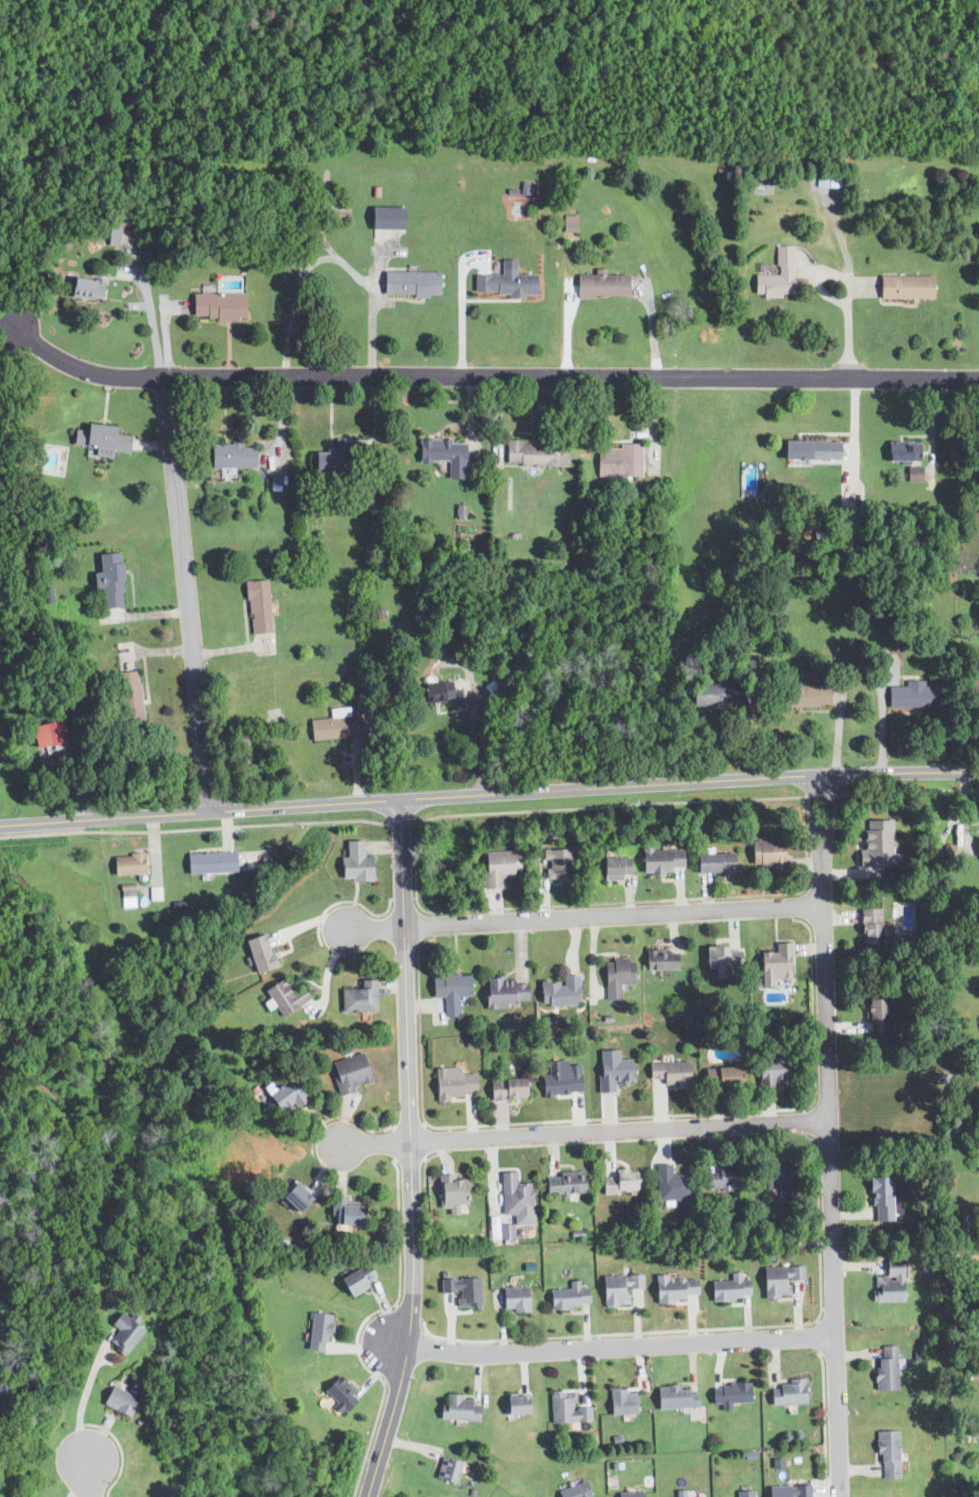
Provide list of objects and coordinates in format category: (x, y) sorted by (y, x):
building: (386, 218)
building: (569, 223)
road: (330, 256)
building: (776, 276)
building: (410, 284)
building: (504, 284)
building: (601, 286)
building: (905, 287)
building: (85, 289)
road: (845, 294)
building: (218, 306)
road: (7, 313)
road: (150, 316)
road: (460, 321)
road: (565, 327)
road: (650, 329)
road: (84, 369)
road: (571, 376)
road: (854, 420)
road: (280, 422)
building: (101, 440)
building: (811, 449)
building: (903, 451)
building: (535, 452)
building: (443, 454)
building: (231, 455)
building: (333, 458)
building: (618, 461)
building: (277, 481)
building: (460, 511)
building: (110, 580)
road: (187, 593)
building: (257, 606)
building: (492, 688)
building: (975, 690)
building: (436, 691)
building: (716, 695)
building: (910, 695)
building: (803, 696)
building: (129, 698)
building: (333, 725)
building: (47, 733)
road: (479, 740)
road: (689, 782)
road: (606, 806)
road: (199, 811)
road: (398, 823)
road: (194, 828)
building: (978, 844)
building: (879, 845)
building: (768, 854)
building: (660, 860)
building: (209, 862)
building: (355, 863)
building: (714, 863)
building: (127, 864)
building: (556, 865)
building: (616, 867)
building: (496, 868)
road: (413, 873)
building: (154, 893)
road: (790, 894)
building: (127, 896)
road: (664, 899)
road: (790, 906)
road: (613, 914)
road: (431, 924)
building: (870, 925)
road: (374, 927)
building: (259, 952)
building: (660, 960)
building: (722, 960)
building: (775, 963)
building: (616, 976)
building: (450, 991)
building: (560, 991)
building: (504, 992)
building: (285, 996)
building: (358, 998)
building: (875, 1016)
road: (418, 1024)
building: (978, 1070)
building: (349, 1073)
building: (612, 1073)
building: (670, 1074)
building: (722, 1077)
building: (772, 1078)
building: (560, 1082)
building: (452, 1083)
building: (507, 1089)
building: (285, 1095)
road: (802, 1110)
road: (715, 1112)
road: (353, 1120)
road: (802, 1121)
road: (392, 1125)
road: (408, 1126)
road: (619, 1130)
road: (828, 1136)
road: (395, 1142)
road: (375, 1143)
road: (411, 1151)
road: (408, 1159)
road: (423, 1159)
road: (424, 1162)
building: (727, 1176)
building: (777, 1177)
building: (564, 1183)
building: (618, 1183)
building: (671, 1184)
building: (450, 1191)
building: (297, 1197)
building: (515, 1199)
building: (881, 1199)
building: (345, 1212)
building: (506, 1232)
building: (356, 1279)
building: (779, 1279)
building: (888, 1282)
building: (674, 1288)
building: (730, 1288)
building: (618, 1289)
building: (463, 1291)
building: (569, 1297)
building: (514, 1300)
road: (816, 1320)
road: (360, 1324)
road: (711, 1328)
building: (317, 1332)
building: (123, 1333)
road: (818, 1337)
road: (619, 1348)
building: (885, 1369)
building: (340, 1393)
building: (787, 1393)
building: (729, 1395)
building: (676, 1398)
road: (82, 1399)
building: (118, 1402)
building: (622, 1403)
building: (516, 1406)
building: (460, 1409)
building: (567, 1409)
road: (822, 1424)
road: (118, 1447)
building: (888, 1455)
building: (777, 1462)
building: (447, 1471)
road: (84, 1477)
building: (574, 1491)
building: (789, 1491)
building: (745, 1493)
building: (630, 1494)
building: (680, 1494)
building: (156, 1496)
building: (514, 1496)

